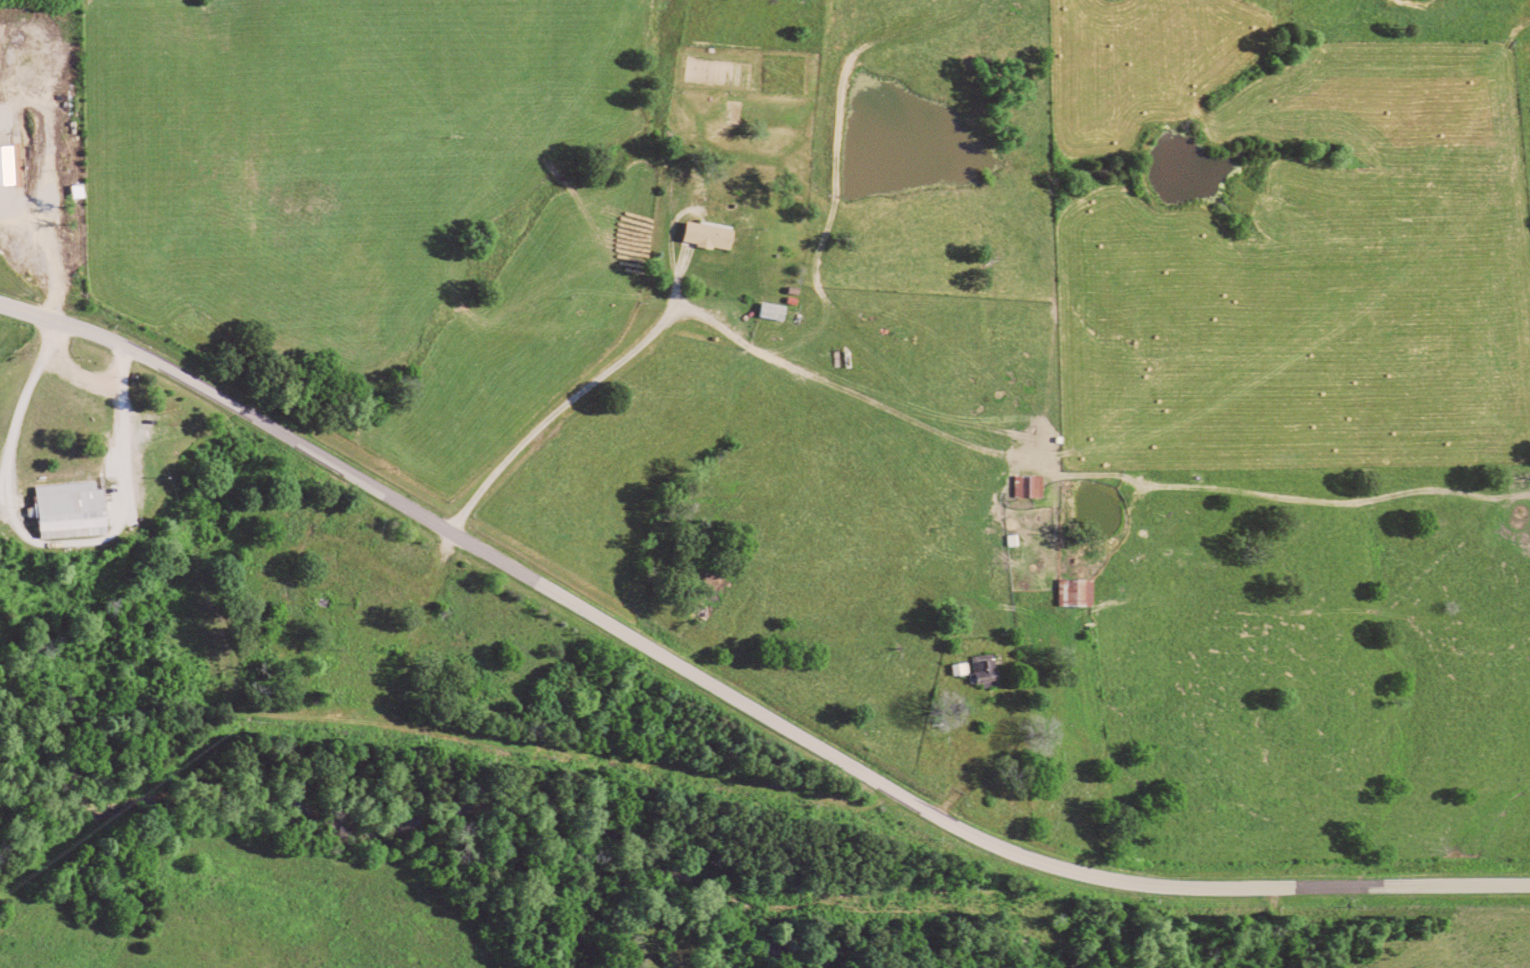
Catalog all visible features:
building: (9, 165)
building: (714, 235)
building: (778, 310)
building: (75, 509)
building: (989, 664)
building: (966, 667)
road: (738, 698)
road: (1271, 927)

